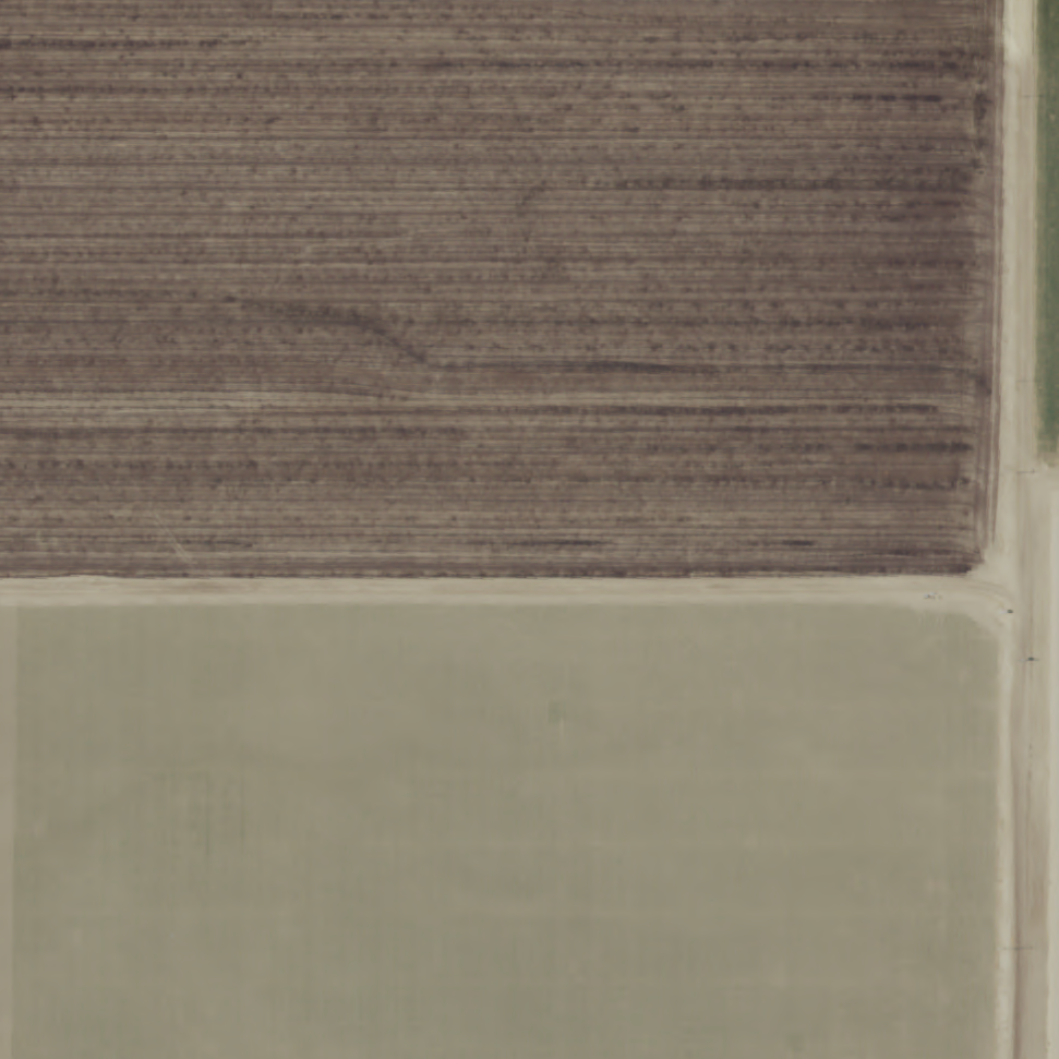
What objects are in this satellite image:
road: (1028, 484)
road: (998, 529)

